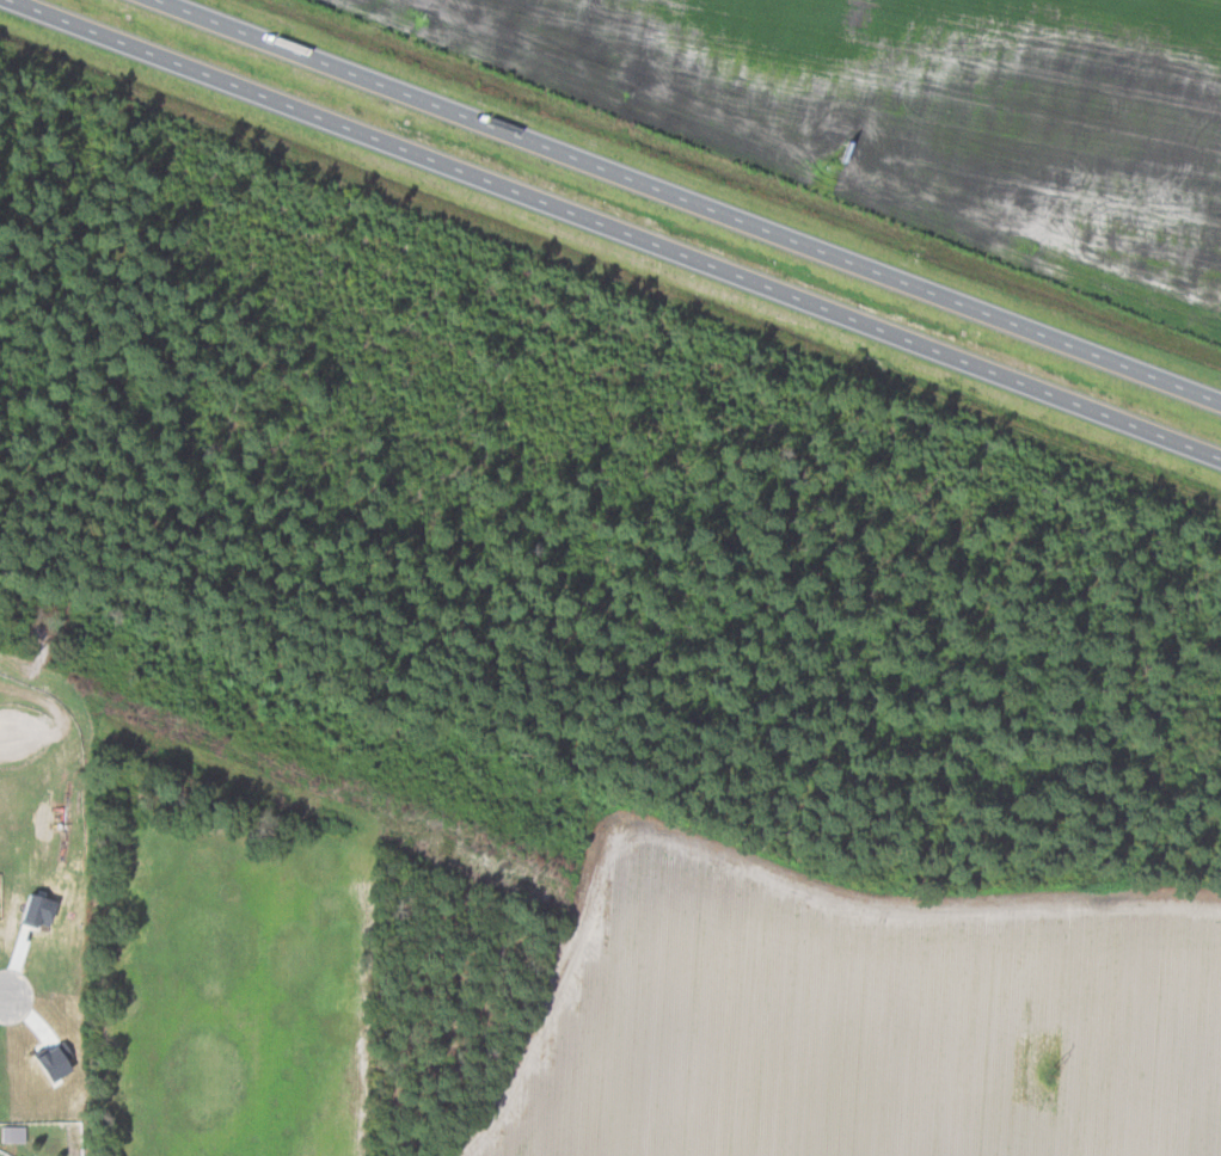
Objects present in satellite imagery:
road: (689, 201)
road: (616, 228)
road: (6, 731)
power tower: (538, 873)
road: (2, 997)
power tower: (1049, 1069)

